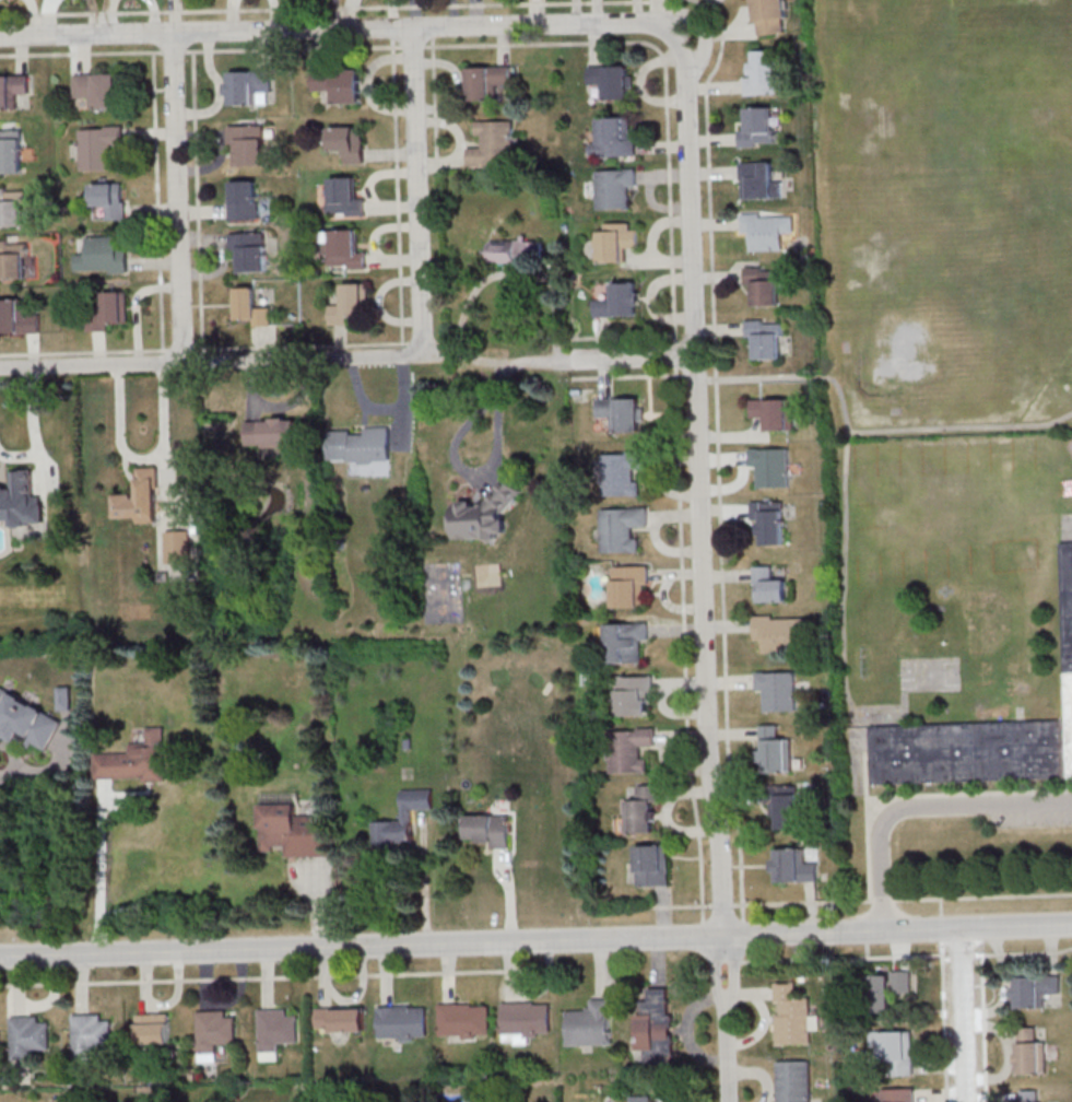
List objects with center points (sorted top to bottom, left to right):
road: (298, 7)
road: (703, 8)
road: (576, 12)
road: (597, 12)
road: (638, 12)
road: (534, 13)
road: (350, 14)
road: (391, 14)
road: (414, 14)
road: (452, 14)
road: (475, 14)
road: (231, 15)
road: (274, 15)
road: (296, 15)
building: (771, 15)
road: (92, 16)
road: (154, 16)
road: (174, 16)
road: (33, 17)
road: (49, 17)
road: (109, 17)
road: (695, 21)
road: (741, 21)
road: (341, 30)
road: (729, 33)
road: (504, 45)
road: (597, 45)
road: (292, 48)
road: (262, 49)
road: (80, 51)
road: (79, 52)
road: (22, 55)
building: (764, 73)
road: (667, 77)
building: (612, 81)
building: (487, 82)
road: (459, 83)
road: (367, 84)
road: (640, 84)
building: (249, 86)
building: (341, 86)
road: (715, 89)
road: (219, 90)
building: (12, 91)
building: (98, 91)
road: (434, 104)
road: (452, 126)
building: (758, 129)
road: (152, 131)
road: (200, 134)
building: (614, 139)
road: (712, 139)
building: (495, 144)
building: (248, 145)
building: (349, 145)
building: (99, 148)
road: (665, 148)
building: (11, 152)
road: (392, 154)
road: (213, 164)
road: (441, 164)
road: (714, 172)
road: (378, 174)
road: (665, 174)
building: (757, 180)
building: (614, 188)
road: (397, 189)
road: (417, 191)
road: (177, 198)
building: (347, 198)
road: (157, 199)
road: (197, 199)
building: (110, 201)
building: (245, 201)
road: (393, 207)
road: (657, 207)
building: (12, 209)
road: (154, 209)
road: (201, 211)
road: (714, 223)
building: (565, 226)
road: (381, 227)
road: (657, 227)
building: (767, 231)
road: (203, 238)
building: (616, 243)
building: (345, 249)
building: (250, 251)
building: (517, 251)
building: (105, 256)
building: (13, 260)
road: (396, 260)
road: (662, 260)
road: (155, 261)
road: (216, 268)
road: (514, 272)
road: (716, 275)
building: (765, 286)
road: (650, 298)
road: (378, 302)
building: (620, 302)
building: (350, 305)
road: (137, 307)
building: (250, 307)
building: (108, 314)
building: (17, 320)
road: (718, 329)
road: (622, 333)
building: (766, 339)
road: (604, 340)
road: (340, 343)
road: (262, 344)
road: (301, 345)
road: (99, 350)
road: (84, 351)
park: (904, 351)
road: (32, 352)
road: (674, 353)
road: (633, 359)
road: (210, 362)
road: (518, 362)
road: (625, 376)
road: (694, 376)
road: (605, 377)
road: (252, 388)
road: (292, 401)
road: (363, 401)
road: (404, 401)
building: (775, 414)
building: (622, 415)
road: (961, 427)
road: (33, 430)
road: (119, 431)
building: (272, 433)
road: (732, 435)
road: (164, 443)
road: (718, 448)
building: (363, 452)
road: (19, 454)
road: (722, 457)
road: (674, 458)
building: (771, 468)
road: (483, 474)
building: (622, 474)
road: (843, 477)
road: (734, 485)
road: (662, 490)
building: (142, 500)
building: (22, 502)
building: (559, 503)
road: (723, 511)
building: (486, 516)
road: (678, 517)
road: (702, 518)
building: (770, 523)
park: (1067, 527)
building: (623, 529)
building: (178, 547)
road: (665, 548)
road: (727, 575)
road: (679, 576)
building: (629, 586)
building: (769, 587)
park: (441, 590)
road: (670, 606)
road: (728, 626)
road: (680, 630)
building: (778, 634)
building: (627, 643)
road: (684, 644)
park: (930, 677)
road: (729, 681)
road: (682, 683)
building: (778, 689)
building: (635, 697)
building: (64, 699)
road: (671, 712)
building: (26, 720)
road: (732, 732)
road: (684, 736)
building: (982, 737)
building: (776, 750)
building: (629, 751)
road: (13, 754)
building: (136, 760)
road: (673, 766)
road: (49, 767)
road: (690, 792)
road: (735, 796)
building: (785, 804)
road: (920, 806)
building: (641, 808)
parking lot: (1029, 818)
building: (400, 824)
road: (867, 824)
road: (675, 828)
building: (491, 829)
building: (296, 831)
building: (652, 865)
road: (99, 866)
building: (794, 866)
road: (424, 878)
road: (983, 896)
road: (507, 898)
road: (883, 900)
road: (801, 902)
road: (721, 904)
road: (671, 905)
road: (940, 905)
road: (319, 906)
road: (811, 908)
road: (662, 913)
road: (941, 927)
road: (535, 938)
road: (1023, 952)
road: (926, 953)
road: (900, 954)
road: (815, 957)
road: (962, 957)
road: (657, 958)
road: (946, 958)
road: (601, 963)
road: (510, 968)
road: (448, 970)
road: (385, 972)
road: (325, 973)
road: (266, 974)
road: (203, 975)
road: (276, 976)
road: (145, 978)
road: (82, 980)
road: (16, 982)
road: (547, 982)
road: (178, 989)
road: (362, 989)
building: (1036, 989)
building: (882, 990)
road: (240, 992)
road: (56, 995)
road: (749, 995)
road: (964, 1013)
building: (791, 1015)
building: (341, 1017)
building: (525, 1017)
building: (463, 1019)
building: (401, 1021)
road: (944, 1022)
building: (589, 1023)
building: (655, 1024)
building: (154, 1028)
building: (276, 1028)
road: (758, 1028)
building: (214, 1030)
road: (685, 1030)
building: (90, 1033)
building: (28, 1035)
road: (727, 1048)
building: (1032, 1052)
building: (897, 1053)
road: (759, 1072)
building: (792, 1080)
building: (898, 1094)
building: (639, 1098)
building: (679, 1101)

